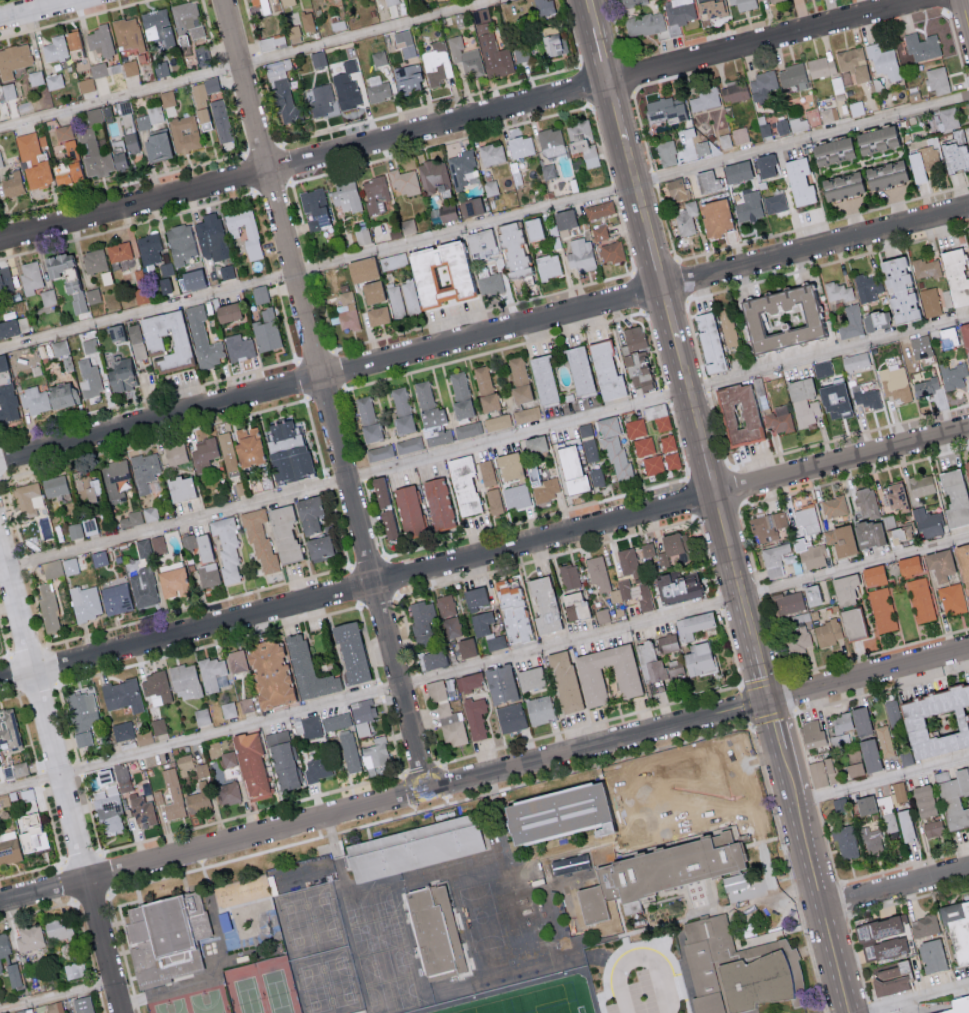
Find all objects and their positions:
building: (287, 2)
building: (390, 2)
building: (745, 4)
building: (265, 5)
building: (543, 7)
road: (41, 10)
road: (590, 10)
road: (966, 11)
building: (679, 14)
building: (186, 20)
building: (306, 21)
building: (645, 23)
building: (156, 26)
building: (293, 34)
building: (126, 35)
building: (99, 41)
building: (550, 41)
building: (271, 42)
building: (405, 43)
building: (71, 44)
building: (491, 46)
building: (922, 46)
building: (54, 49)
road: (601, 51)
building: (522, 53)
building: (201, 55)
building: (466, 56)
building: (318, 58)
building: (378, 58)
building: (13, 59)
building: (883, 61)
building: (853, 62)
building: (437, 64)
road: (252, 65)
building: (820, 66)
building: (130, 67)
building: (114, 68)
building: (161, 68)
building: (97, 69)
building: (792, 76)
building: (35, 77)
building: (408, 77)
building: (936, 79)
building: (54, 81)
building: (345, 84)
building: (85, 85)
building: (762, 87)
building: (8, 90)
building: (378, 91)
building: (733, 91)
building: (281, 93)
building: (202, 97)
building: (167, 98)
building: (704, 98)
building: (322, 99)
building: (827, 109)
building: (663, 110)
road: (617, 111)
building: (94, 115)
building: (150, 116)
building: (948, 117)
building: (220, 120)
road: (461, 120)
building: (798, 124)
building: (781, 126)
building: (764, 129)
building: (184, 133)
building: (740, 135)
building: (549, 138)
building: (872, 139)
building: (724, 140)
building: (581, 141)
building: (130, 142)
building: (521, 146)
building: (155, 147)
building: (213, 149)
building: (829, 151)
building: (67, 152)
building: (955, 152)
building: (491, 153)
building: (666, 153)
building: (98, 156)
building: (33, 158)
building: (930, 158)
building: (0, 162)
building: (764, 165)
building: (915, 166)
building: (461, 168)
building: (547, 171)
building: (736, 171)
building: (883, 175)
building: (432, 176)
building: (60, 178)
building: (706, 181)
building: (798, 181)
building: (403, 182)
building: (12, 184)
road: (637, 186)
building: (839, 186)
building: (490, 187)
building: (677, 190)
building: (375, 193)
building: (345, 195)
building: (774, 203)
building: (470, 206)
building: (749, 206)
building: (314, 208)
building: (599, 209)
building: (448, 212)
building: (686, 218)
building: (714, 218)
building: (563, 221)
road: (484, 225)
building: (407, 226)
building: (530, 229)
building: (251, 231)
building: (599, 232)
building: (362, 236)
building: (210, 237)
building: (480, 241)
building: (179, 243)
building: (149, 248)
building: (511, 249)
building: (118, 252)
building: (610, 252)
building: (580, 254)
building: (94, 260)
road: (656, 261)
building: (55, 264)
building: (547, 266)
building: (925, 268)
building: (361, 269)
building: (226, 271)
building: (433, 273)
building: (30, 276)
building: (161, 276)
building: (5, 278)
building: (954, 278)
building: (197, 281)
building: (889, 289)
building: (371, 292)
building: (838, 292)
building: (260, 294)
building: (74, 295)
building: (93, 295)
building: (48, 297)
building: (395, 300)
building: (929, 301)
building: (343, 308)
building: (226, 312)
building: (377, 315)
road: (670, 316)
building: (780, 319)
building: (862, 321)
building: (9, 327)
building: (823, 327)
building: (727, 328)
building: (266, 331)
building: (115, 333)
building: (948, 336)
road: (484, 337)
building: (203, 338)
building: (965, 338)
building: (160, 340)
building: (634, 341)
building: (708, 342)
building: (89, 345)
building: (59, 347)
building: (240, 348)
building: (915, 348)
building: (854, 361)
building: (2, 362)
building: (822, 368)
building: (578, 370)
building: (636, 370)
building: (605, 372)
building: (121, 375)
building: (953, 375)
building: (3, 376)
building: (89, 378)
building: (542, 379)
building: (518, 380)
building: (894, 383)
building: (926, 386)
building: (485, 388)
road: (689, 391)
road: (325, 396)
building: (460, 396)
building: (48, 397)
building: (865, 397)
building: (833, 401)
building: (802, 402)
building: (8, 403)
building: (401, 411)
building: (655, 411)
building: (526, 414)
building: (737, 414)
building: (367, 418)
building: (780, 418)
building: (426, 422)
building: (497, 422)
building: (662, 423)
building: (635, 428)
building: (468, 429)
building: (588, 442)
building: (668, 443)
building: (613, 444)
road: (484, 445)
building: (644, 446)
building: (535, 448)
building: (239, 449)
building: (204, 451)
building: (380, 452)
building: (284, 453)
building: (175, 454)
building: (672, 460)
building: (653, 464)
building: (508, 466)
road: (709, 467)
building: (145, 470)
building: (571, 470)
building: (965, 472)
building: (486, 473)
building: (596, 477)
building: (117, 480)
building: (462, 485)
building: (55, 486)
building: (920, 486)
building: (544, 487)
building: (180, 488)
building: (87, 489)
building: (379, 492)
building: (516, 496)
building: (894, 497)
building: (953, 497)
building: (29, 499)
building: (494, 501)
building: (865, 502)
building: (437, 504)
building: (834, 506)
building: (407, 511)
building: (150, 513)
building: (307, 514)
building: (131, 519)
building: (806, 519)
road: (723, 521)
building: (927, 523)
building: (387, 524)
building: (767, 526)
building: (45, 527)
building: (82, 528)
building: (59, 532)
building: (903, 532)
building: (283, 534)
building: (867, 534)
building: (259, 539)
building: (840, 541)
building: (157, 544)
building: (197, 545)
building: (143, 547)
building: (671, 547)
building: (317, 548)
building: (227, 549)
building: (647, 549)
building: (191, 553)
building: (811, 555)
road: (484, 556)
building: (98, 558)
building: (774, 559)
building: (629, 563)
building: (791, 563)
building: (938, 564)
building: (70, 566)
building: (907, 566)
building: (963, 566)
building: (52, 568)
building: (597, 573)
building: (208, 574)
building: (569, 576)
building: (872, 576)
building: (173, 582)
building: (143, 587)
building: (677, 587)
building: (844, 589)
building: (622, 590)
road: (742, 592)
building: (812, 595)
building: (645, 597)
building: (474, 598)
building: (952, 598)
building: (115, 599)
building: (920, 599)
building: (85, 602)
building: (789, 602)
building: (446, 605)
building: (543, 606)
building: (573, 606)
building: (49, 607)
building: (882, 609)
building: (511, 613)
building: (602, 615)
building: (423, 622)
building: (481, 623)
building: (851, 623)
building: (692, 625)
building: (451, 627)
building: (827, 632)
building: (798, 638)
building: (494, 642)
building: (667, 643)
building: (466, 648)
building: (350, 653)
building: (434, 659)
building: (697, 660)
building: (236, 661)
building: (648, 663)
road: (484, 664)
building: (673, 666)
building: (307, 671)
road: (762, 671)
building: (211, 673)
building: (270, 675)
building: (529, 679)
building: (184, 681)
building: (590, 681)
building: (468, 682)
building: (564, 682)
building: (499, 684)
building: (156, 688)
building: (436, 690)
building: (123, 695)
traffic signals: (770, 704)
building: (540, 709)
building: (228, 710)
building: (82, 716)
building: (201, 717)
building: (362, 717)
building: (476, 717)
building: (511, 718)
building: (336, 721)
building: (933, 721)
building: (851, 722)
building: (451, 725)
building: (158, 726)
building: (311, 726)
road: (776, 726)
building: (8, 728)
building: (123, 730)
building: (811, 734)
building: (144, 737)
building: (839, 740)
building: (886, 746)
building: (220, 747)
building: (348, 751)
building: (375, 753)
building: (854, 756)
building: (869, 756)
building: (282, 761)
building: (183, 764)
building: (247, 764)
building: (20, 769)
building: (319, 769)
building: (201, 770)
building: (854, 770)
building: (230, 771)
road: (788, 772)
building: (820, 772)
road: (61, 775)
building: (941, 776)
road: (484, 778)
building: (0, 779)
building: (122, 779)
road: (882, 781)
building: (227, 793)
building: (894, 795)
building: (173, 796)
building: (954, 799)
building: (106, 801)
building: (196, 801)
building: (923, 801)
building: (4, 802)
building: (611, 802)
building: (864, 805)
building: (840, 807)
building: (141, 810)
building: (749, 812)
building: (889, 822)
building: (904, 826)
building: (933, 829)
building: (31, 833)
building: (871, 840)
building: (845, 842)
building: (8, 848)
road: (808, 850)
building: (415, 858)
building: (657, 878)
road: (896, 885)
building: (255, 888)
building: (253, 924)
building: (884, 924)
building: (924, 925)
building: (958, 925)
building: (56, 928)
building: (165, 936)
building: (30, 937)
park: (239, 941)
building: (436, 941)
building: (5, 944)
building: (882, 946)
building: (931, 955)
road: (837, 958)
building: (1, 968)
building: (74, 969)
building: (12, 974)
parking lot: (662, 974)
building: (731, 974)
building: (890, 978)
road: (662, 980)
park: (262, 989)
road: (910, 996)
road: (57, 997)
park: (193, 1003)
building: (82, 1004)
building: (957, 1004)
building: (54, 1007)
building: (938, 1007)
building: (18, 1011)
parking lot: (903, 1012)

